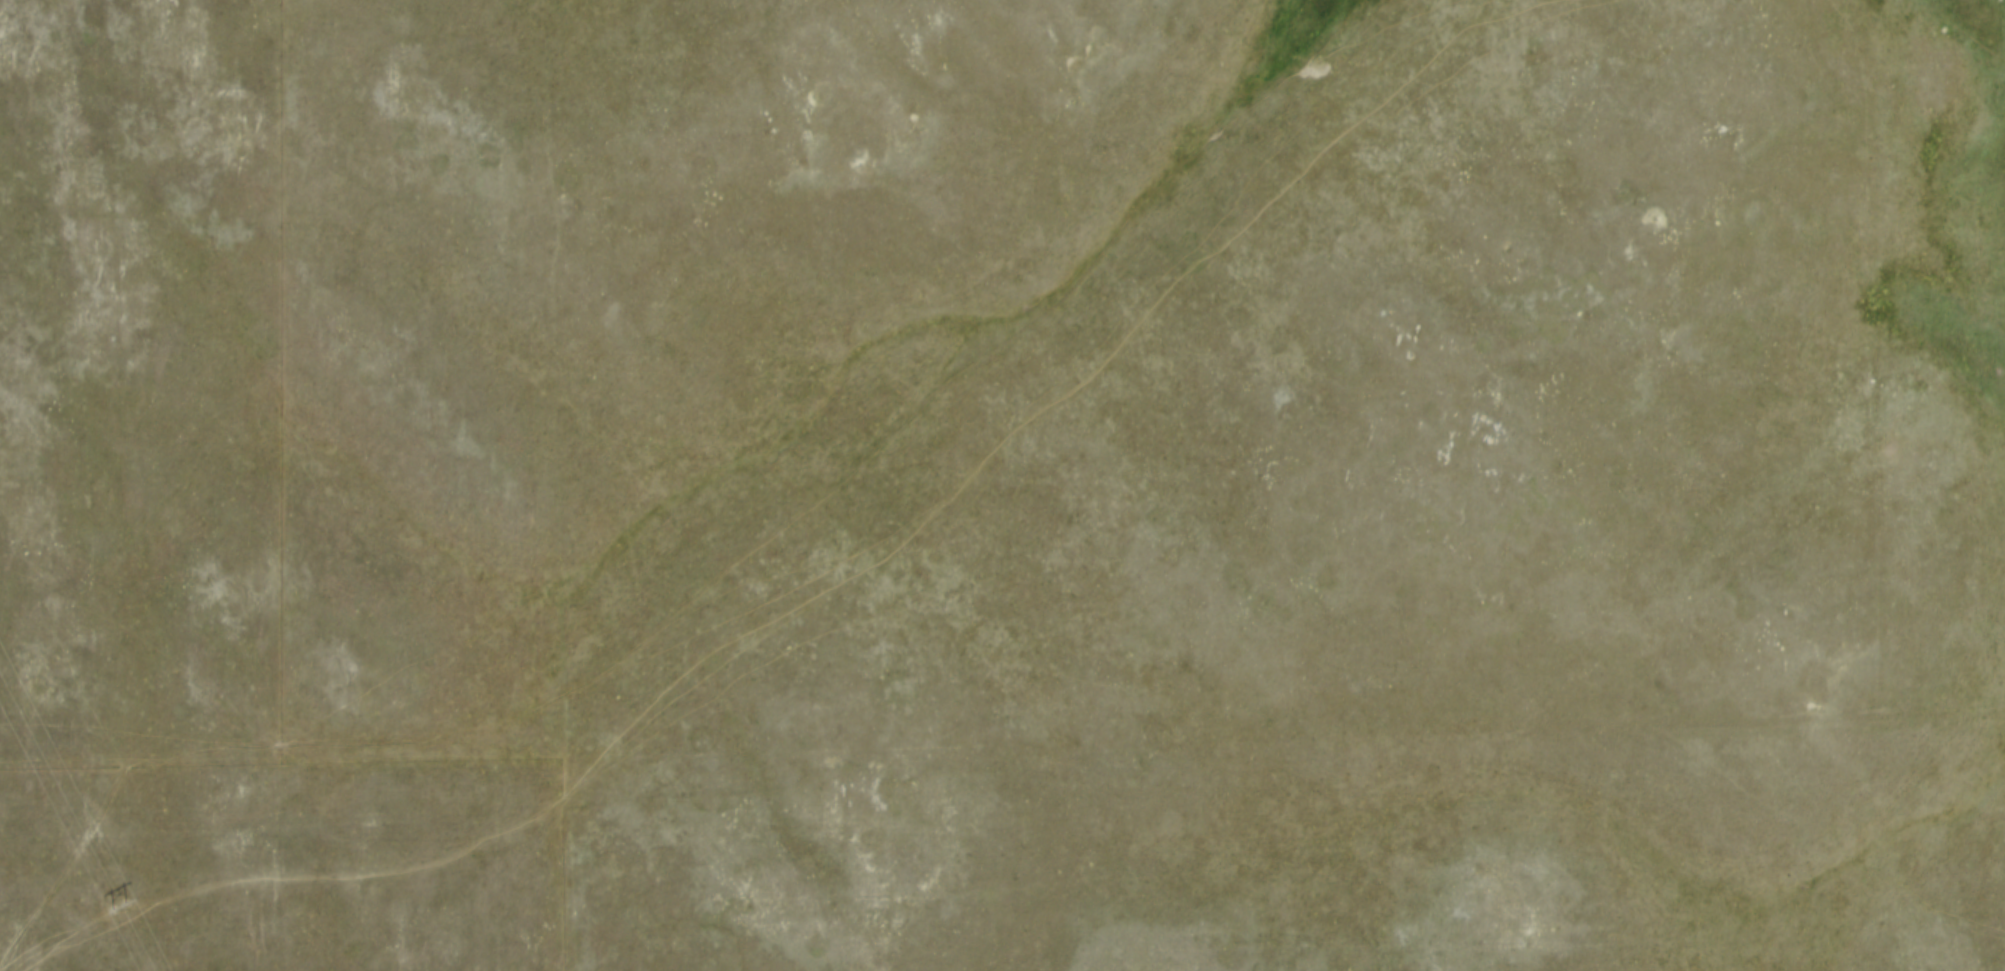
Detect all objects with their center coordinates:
power tower: (115, 907)

